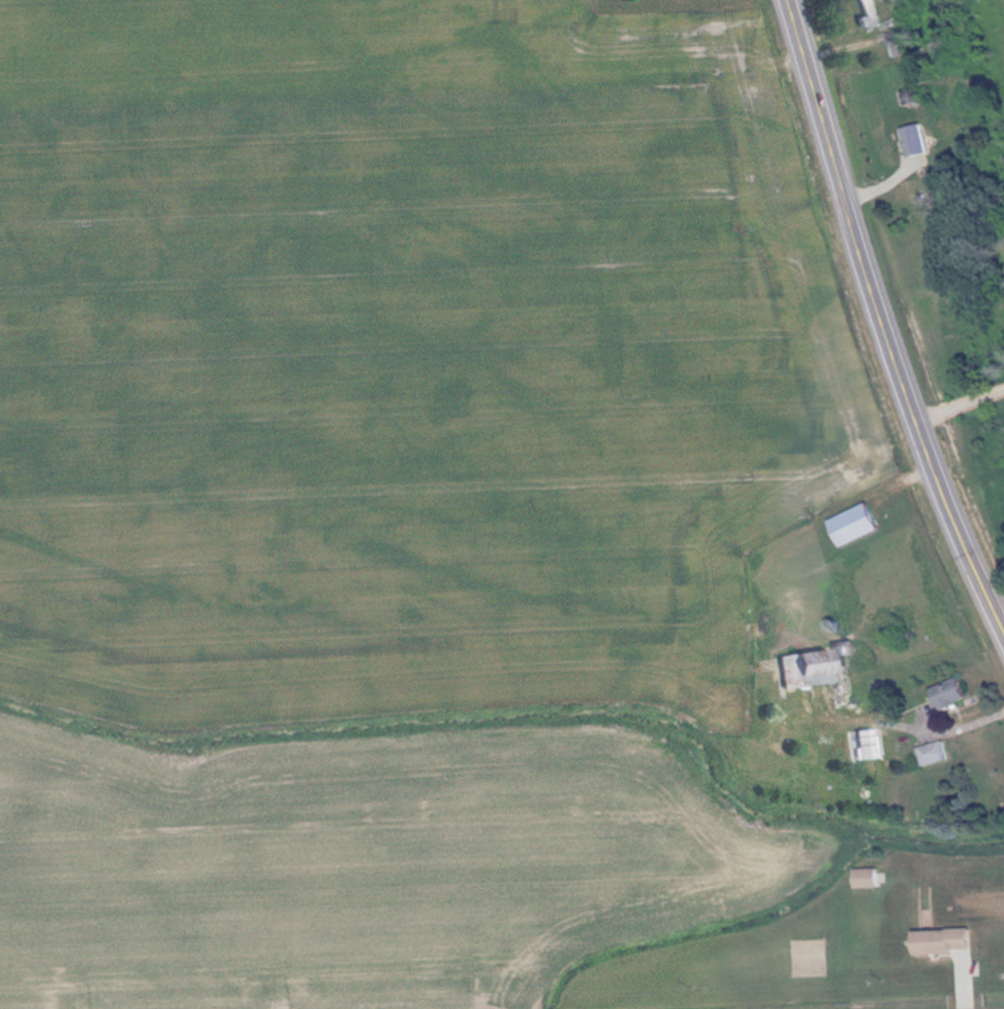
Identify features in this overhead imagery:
building: (871, 22)
building: (903, 41)
building: (917, 97)
building: (925, 140)
road: (883, 316)
building: (863, 522)
building: (810, 667)
building: (957, 692)
building: (869, 747)
building: (939, 751)
building: (873, 877)
building: (952, 939)

